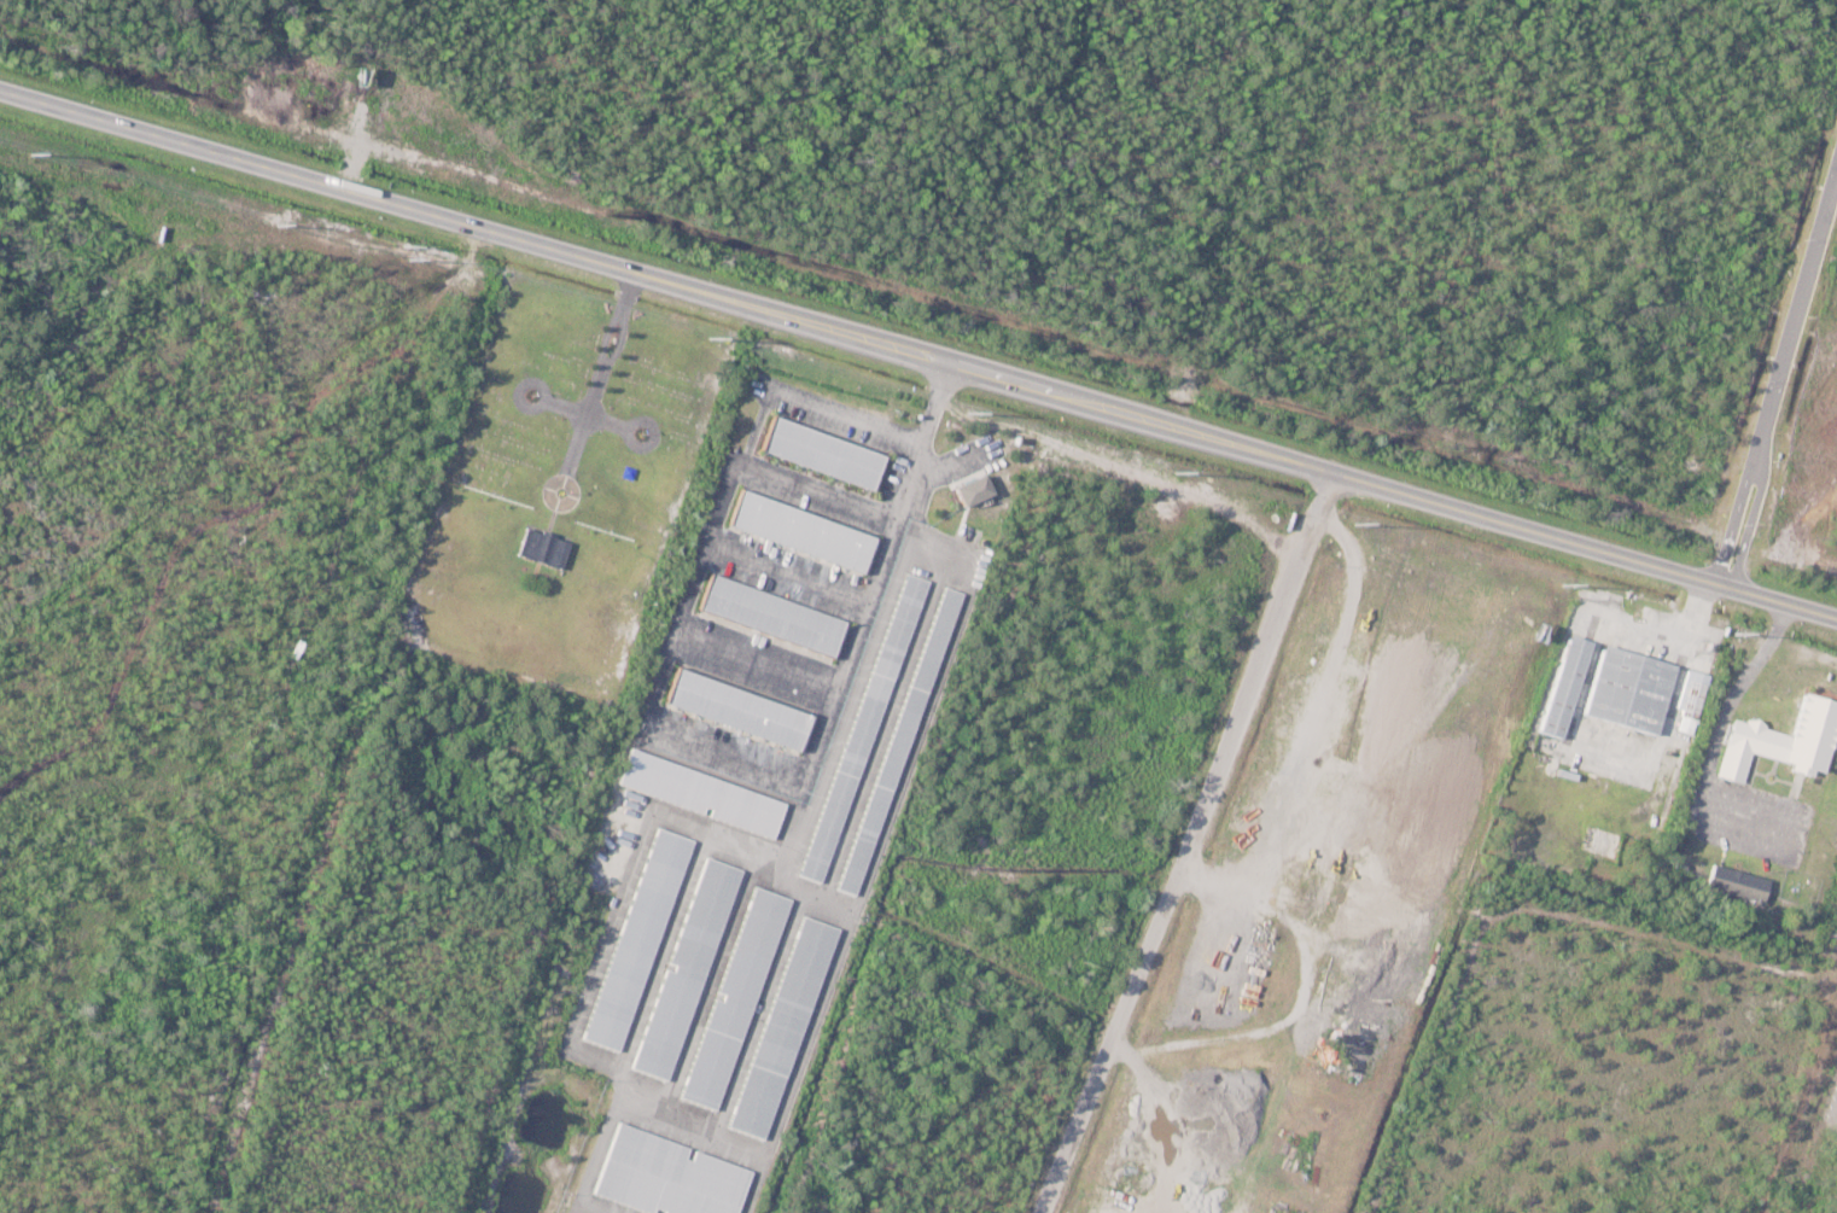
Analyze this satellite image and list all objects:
road: (321, 182)
road: (619, 343)
road: (602, 369)
road: (1778, 381)
road: (518, 389)
road: (809, 403)
road: (585, 413)
road: (628, 427)
road: (1241, 445)
building: (826, 451)
road: (947, 463)
park: (567, 488)
building: (975, 489)
building: (804, 530)
building: (544, 546)
road: (787, 571)
building: (772, 613)
road: (756, 660)
building: (1565, 686)
building: (1629, 689)
building: (1692, 693)
road: (1727, 702)
building: (740, 707)
building: (865, 727)
building: (900, 737)
building: (1779, 741)
road: (718, 758)
building: (701, 792)
road: (1186, 841)
building: (1738, 881)
building: (638, 938)
building: (687, 968)
road: (1836, 981)
building: (736, 998)
building: (785, 1027)
building: (670, 1176)

